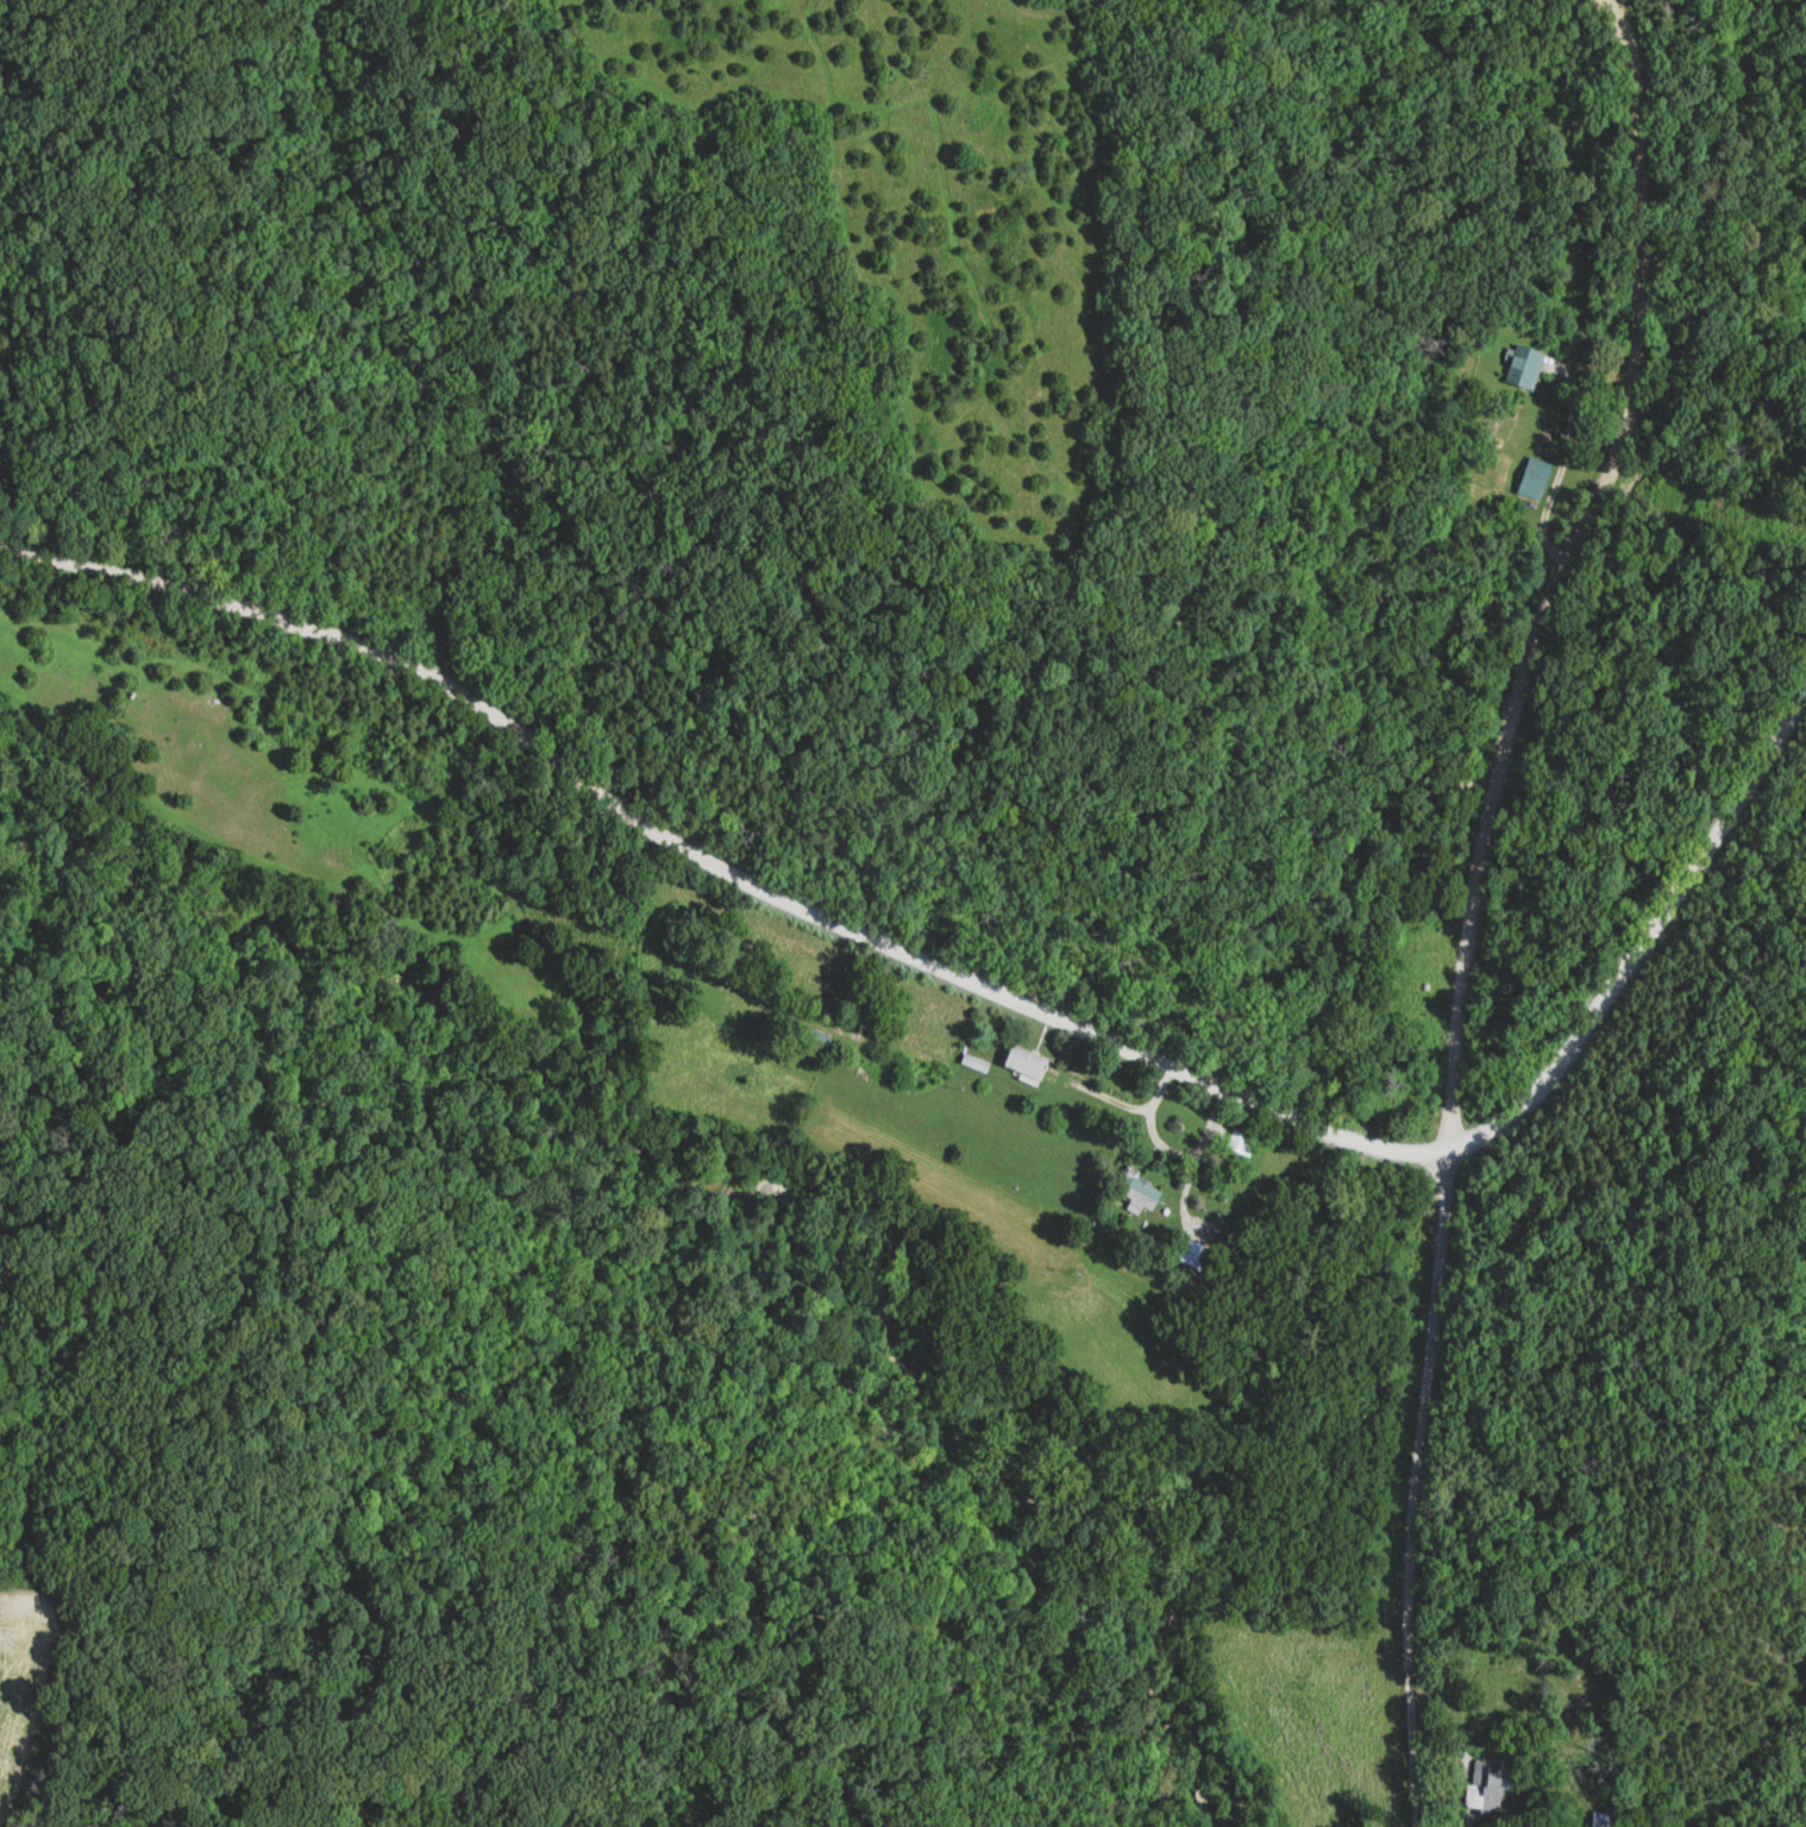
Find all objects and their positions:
building: (1522, 369)
road: (1460, 892)
road: (982, 992)
building: (852, 1032)
building: (1033, 1062)
building: (979, 1063)
building: (1243, 1143)
building: (1148, 1194)
building: (1199, 1256)
building: (1473, 1790)
building: (1593, 1820)

